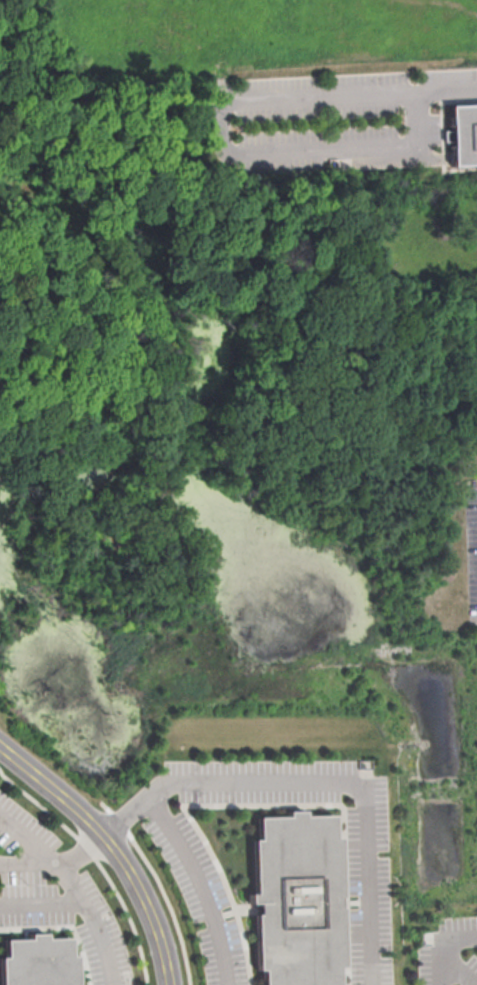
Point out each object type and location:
road: (444, 91)
parking lot: (329, 116)
building: (460, 135)
road: (223, 148)
parking lot: (470, 546)
road: (35, 775)
road: (354, 781)
road: (104, 830)
road: (26, 859)
road: (200, 884)
road: (75, 886)
road: (133, 887)
building: (288, 901)
road: (42, 902)
road: (440, 941)
parking lot: (449, 952)
building: (31, 963)
road: (458, 967)

